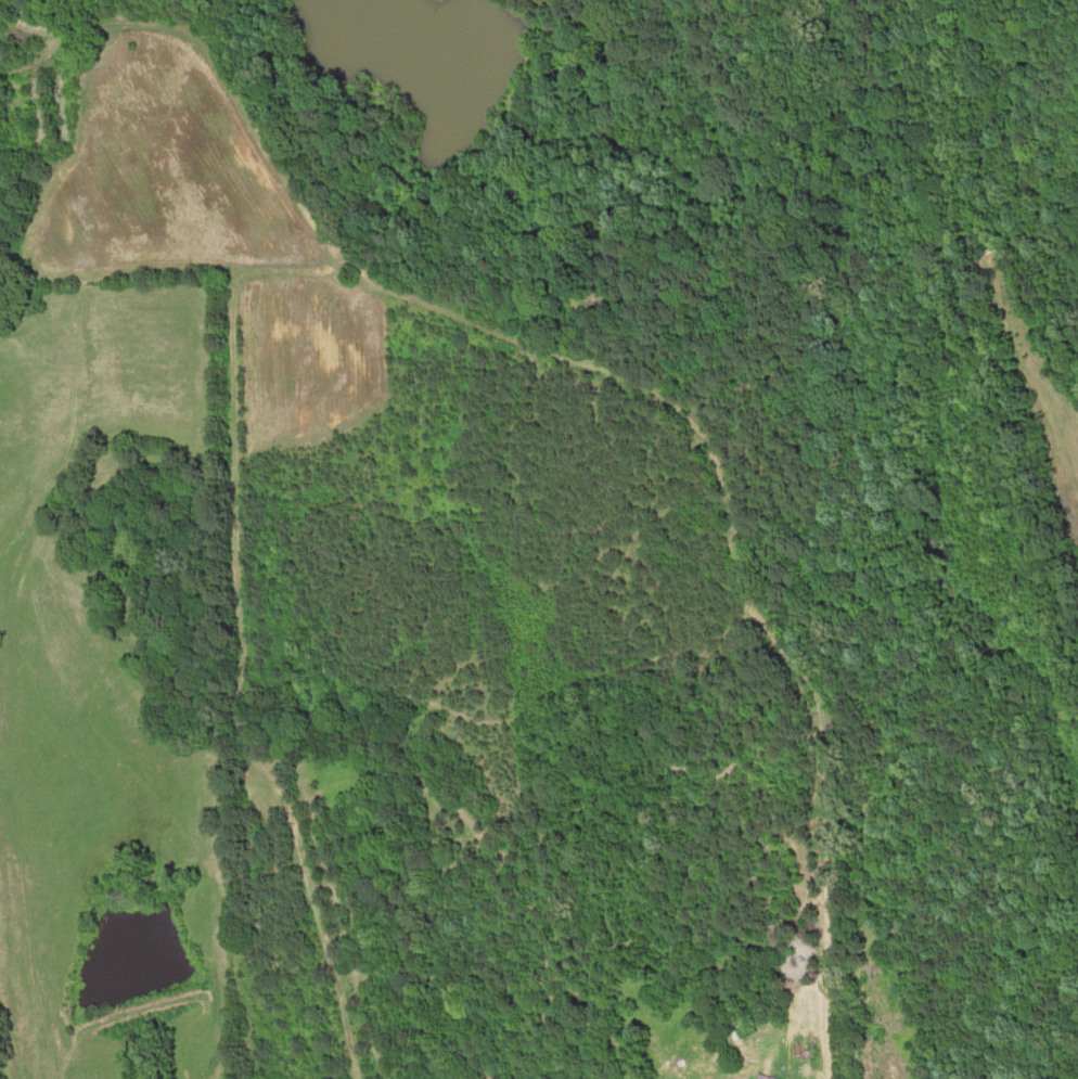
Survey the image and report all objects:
building: (762, 1077)

